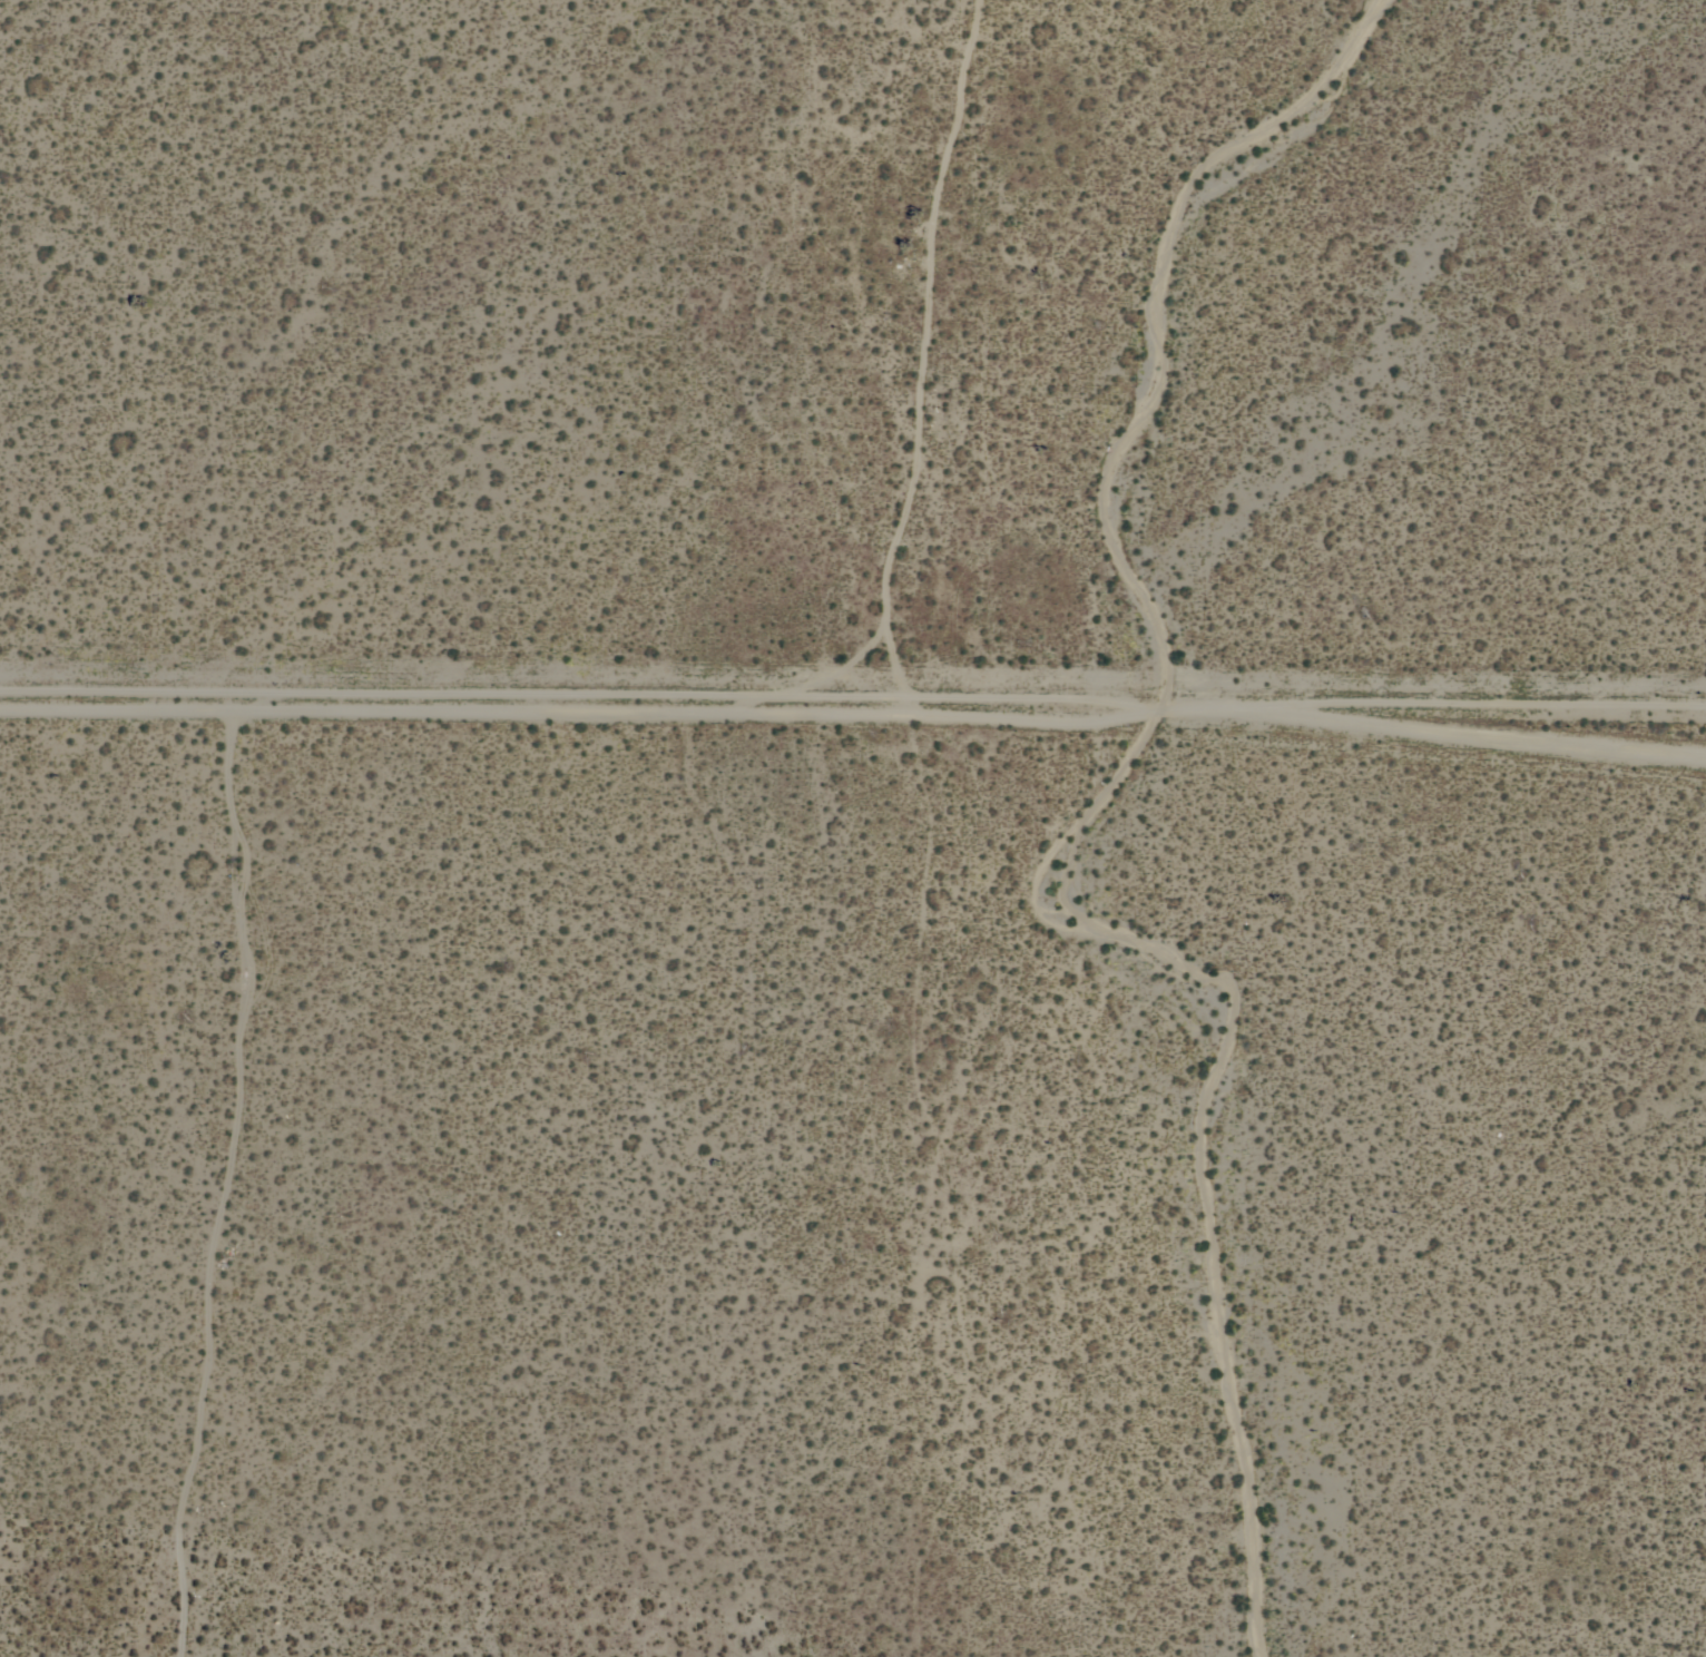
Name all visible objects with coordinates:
road: (853, 696)
road: (226, 1177)

